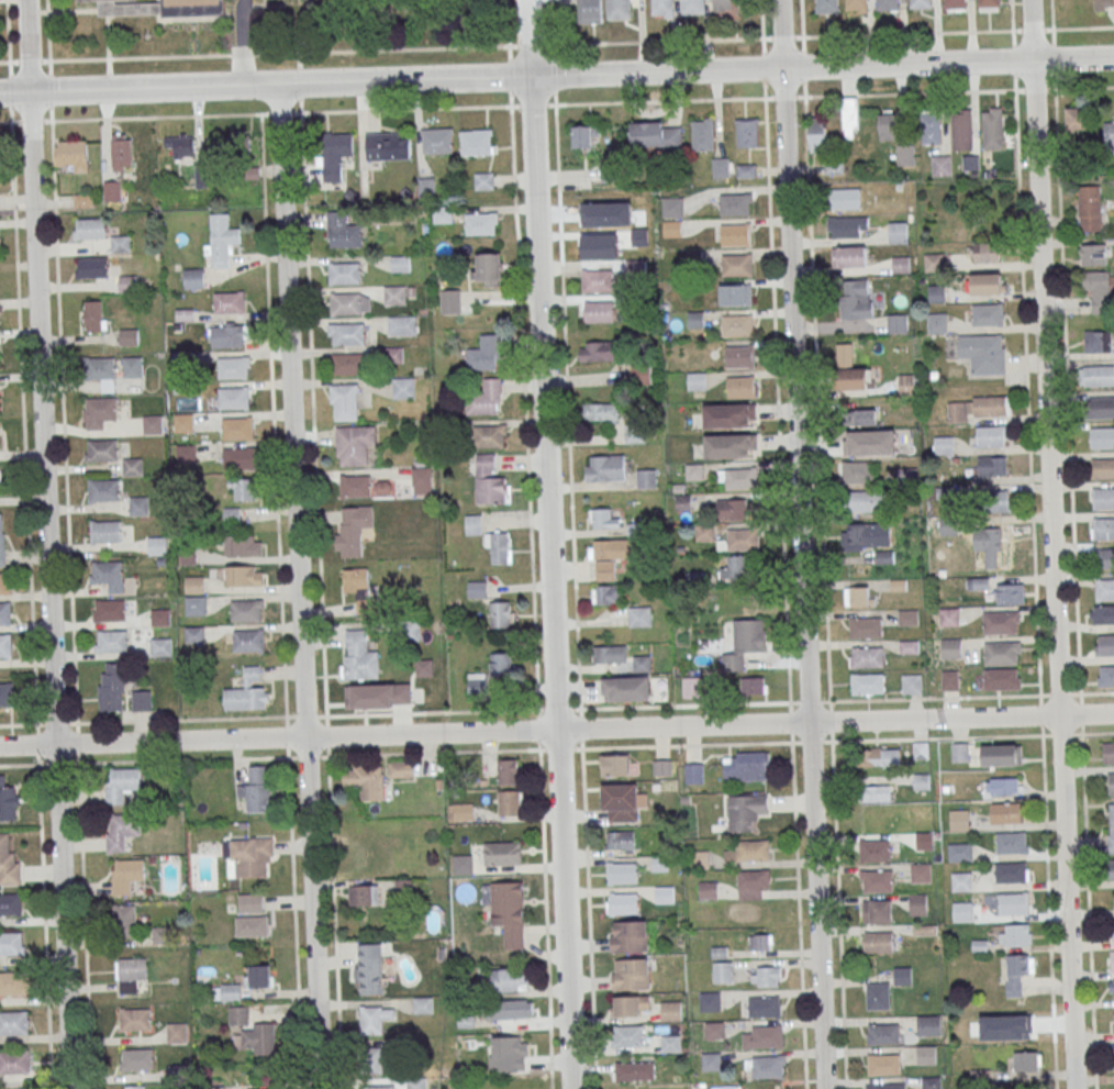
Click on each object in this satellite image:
building: (988, 2)
building: (921, 3)
building: (1066, 3)
building: (887, 4)
building: (956, 4)
building: (1103, 4)
building: (692, 5)
building: (725, 5)
building: (826, 5)
building: (855, 5)
building: (159, 7)
building: (662, 7)
building: (619, 9)
building: (589, 11)
road: (1052, 14)
road: (508, 22)
road: (1083, 27)
road: (48, 30)
road: (8, 31)
road: (242, 42)
road: (552, 44)
road: (553, 52)
road: (557, 75)
road: (527, 105)
building: (851, 116)
building: (1077, 118)
road: (26, 122)
building: (889, 125)
building: (932, 127)
building: (992, 129)
building: (961, 130)
building: (747, 132)
building: (702, 133)
building: (817, 134)
building: (584, 135)
building: (656, 135)
building: (1110, 135)
building: (437, 140)
building: (476, 142)
building: (235, 143)
building: (180, 144)
building: (338, 145)
building: (388, 145)
building: (121, 152)
building: (73, 155)
building: (905, 155)
building: (940, 165)
building: (721, 167)
building: (746, 170)
building: (201, 175)
building: (484, 180)
building: (112, 190)
building: (845, 198)
building: (735, 203)
building: (672, 207)
building: (1089, 208)
building: (443, 213)
building: (481, 223)
building: (847, 226)
building: (90, 227)
building: (672, 229)
building: (899, 232)
building: (735, 234)
building: (344, 236)
building: (222, 238)
building: (1092, 254)
building: (849, 256)
building: (694, 258)
building: (932, 260)
building: (401, 263)
building: (901, 264)
building: (736, 265)
building: (91, 267)
building: (488, 269)
building: (345, 274)
building: (193, 277)
building: (597, 280)
building: (988, 282)
building: (1, 285)
building: (1098, 289)
building: (394, 295)
building: (735, 295)
building: (856, 299)
building: (450, 300)
building: (230, 302)
building: (346, 304)
building: (600, 311)
building: (94, 314)
building: (988, 314)
building: (0, 319)
building: (697, 319)
building: (937, 322)
building: (898, 323)
building: (402, 324)
building: (737, 325)
building: (347, 333)
building: (227, 336)
building: (1098, 341)
road: (815, 349)
building: (597, 351)
building: (484, 353)
building: (983, 353)
building: (739, 355)
building: (0, 359)
building: (347, 363)
road: (544, 364)
building: (132, 366)
building: (100, 368)
building: (233, 368)
road: (776, 371)
building: (1096, 375)
building: (851, 378)
building: (697, 380)
building: (906, 385)
building: (740, 386)
building: (403, 387)
building: (484, 397)
building: (234, 398)
building: (345, 401)
road: (1027, 402)
building: (979, 407)
building: (1101, 407)
building: (98, 411)
building: (601, 411)
road: (313, 413)
road: (274, 414)
building: (728, 414)
building: (861, 416)
building: (183, 422)
building: (153, 423)
building: (238, 429)
building: (635, 433)
building: (490, 435)
building: (991, 435)
building: (1102, 437)
building: (869, 442)
building: (355, 444)
building: (729, 444)
building: (103, 451)
building: (186, 453)
building: (238, 458)
building: (133, 466)
building: (992, 466)
building: (605, 467)
building: (1102, 467)
building: (857, 470)
building: (646, 478)
building: (738, 478)
building: (421, 479)
building: (490, 480)
building: (355, 486)
building: (244, 489)
building: (103, 491)
building: (1103, 498)
building: (861, 500)
building: (998, 500)
building: (138, 504)
building: (732, 509)
building: (603, 519)
building: (474, 523)
building: (948, 525)
building: (1102, 527)
building: (353, 529)
road: (572, 531)
building: (107, 532)
building: (704, 532)
building: (860, 535)
building: (740, 540)
building: (1, 541)
road: (47, 544)
road: (801, 544)
road: (1050, 544)
building: (157, 545)
building: (989, 545)
building: (243, 546)
building: (498, 547)
building: (611, 555)
building: (1104, 557)
building: (736, 567)
building: (108, 571)
building: (244, 577)
building: (977, 582)
building: (4, 584)
building: (194, 584)
road: (301, 586)
building: (359, 587)
building: (477, 588)
building: (1104, 589)
building: (1009, 593)
building: (606, 594)
building: (858, 596)
building: (194, 604)
building: (110, 610)
building: (246, 611)
building: (4, 613)
building: (501, 614)
building: (1102, 614)
building: (160, 615)
building: (639, 615)
building: (907, 616)
building: (949, 616)
building: (1001, 622)
building: (866, 626)
building: (193, 634)
building: (112, 641)
building: (248, 641)
building: (746, 642)
building: (5, 645)
building: (1104, 645)
building: (160, 646)
building: (950, 647)
building: (1002, 653)
building: (611, 654)
building: (358, 655)
building: (867, 657)
building: (640, 663)
building: (502, 664)
building: (1106, 676)
building: (949, 679)
building: (998, 679)
building: (868, 682)
building: (478, 684)
building: (911, 684)
building: (754, 685)
building: (111, 686)
building: (691, 686)
building: (625, 688)
building: (246, 693)
building: (378, 696)
building: (7, 697)
road: (895, 699)
building: (141, 700)
road: (394, 713)
road: (557, 730)
building: (959, 752)
building: (1109, 753)
building: (882, 756)
building: (1001, 756)
building: (615, 764)
building: (747, 766)
building: (508, 771)
building: (693, 773)
building: (361, 780)
building: (121, 784)
building: (1111, 784)
building: (1001, 786)
building: (255, 789)
building: (877, 792)
building: (509, 802)
building: (620, 802)
building: (8, 803)
building: (746, 811)
building: (1005, 813)
building: (958, 820)
building: (121, 831)
building: (1111, 831)
building: (403, 838)
building: (621, 838)
building: (1012, 843)
building: (749, 849)
building: (875, 851)
building: (959, 852)
building: (502, 853)
building: (249, 857)
building: (365, 858)
building: (698, 859)
building: (8, 863)
building: (463, 864)
building: (1111, 868)
building: (622, 871)
building: (921, 871)
building: (1011, 873)
road: (1087, 874)
building: (126, 875)
building: (876, 880)
building: (961, 881)
building: (754, 884)
building: (708, 889)
building: (664, 893)
building: (364, 894)
building: (250, 902)
building: (622, 903)
building: (917, 903)
building: (1014, 903)
building: (10, 904)
road: (566, 909)
building: (509, 911)
building: (877, 911)
building: (961, 911)
road: (799, 915)
building: (124, 920)
building: (252, 925)
building: (1113, 931)
building: (160, 934)
building: (1015, 934)
building: (628, 935)
building: (760, 942)
building: (878, 942)
building: (11, 943)
building: (1113, 960)
building: (369, 968)
building: (722, 971)
building: (1015, 973)
building: (131, 974)
building: (630, 974)
building: (766, 975)
building: (902, 975)
building: (259, 976)
building: (503, 979)
building: (13, 984)
building: (1112, 987)
building: (227, 991)
building: (878, 996)
building: (710, 1001)
building: (422, 1004)
building: (631, 1005)
building: (765, 1005)
building: (510, 1009)
building: (671, 1010)
building: (238, 1015)
building: (375, 1018)
building: (134, 1019)
building: (13, 1023)
building: (928, 1025)
building: (1022, 1030)
building: (177, 1032)
building: (882, 1033)
building: (628, 1035)
building: (762, 1035)
building: (260, 1037)
building: (670, 1043)
building: (506, 1051)
building: (926, 1054)
building: (136, 1059)
building: (375, 1059)
building: (711, 1060)
building: (1026, 1060)
building: (14, 1063)
building: (883, 1064)
building: (765, 1066)
building: (634, 1070)
building: (178, 1071)
building: (931, 1082)
building: (416, 1084)
building: (885, 1086)
building: (134, 1087)
building: (379, 1087)

